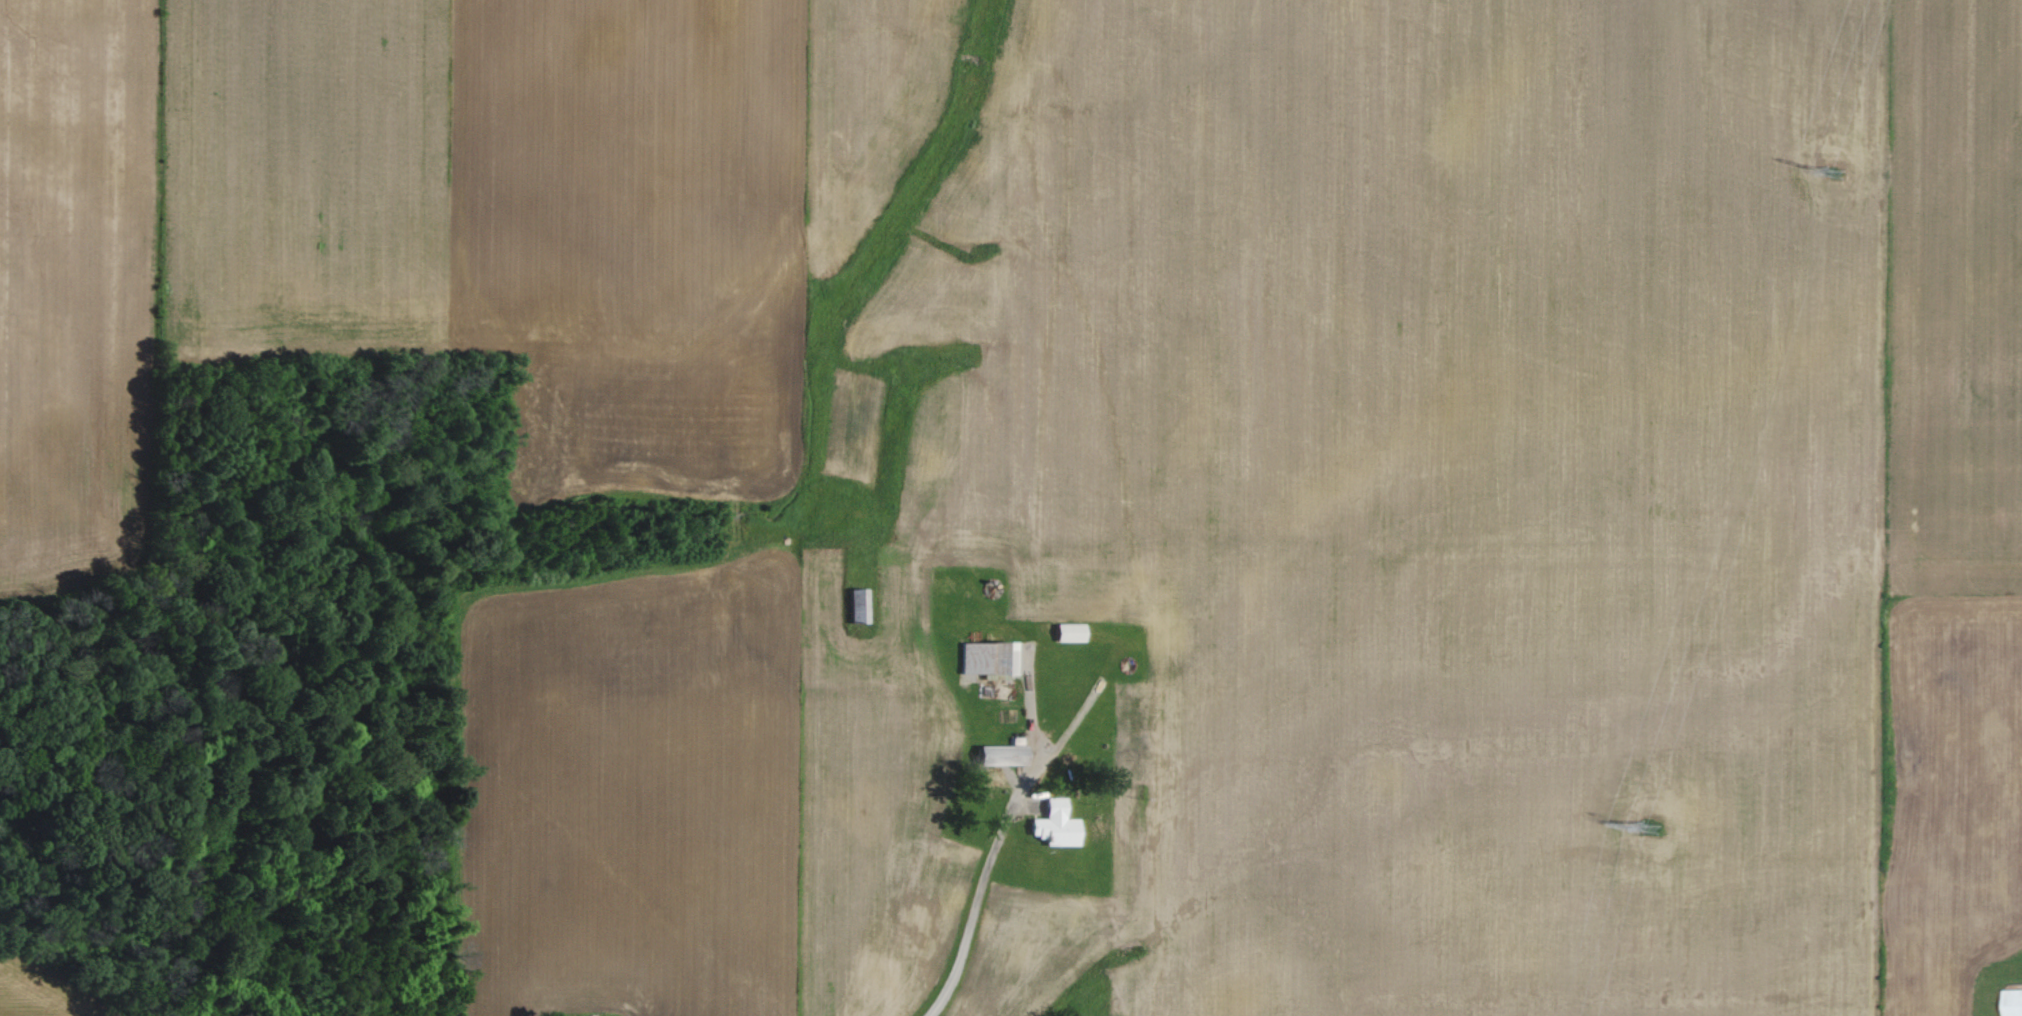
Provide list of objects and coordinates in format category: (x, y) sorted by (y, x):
power tower: (1835, 172)
building: (861, 607)
building: (1072, 633)
building: (990, 659)
building: (1005, 756)
building: (1058, 826)
power tower: (1652, 828)
road: (983, 882)
building: (2011, 1003)

